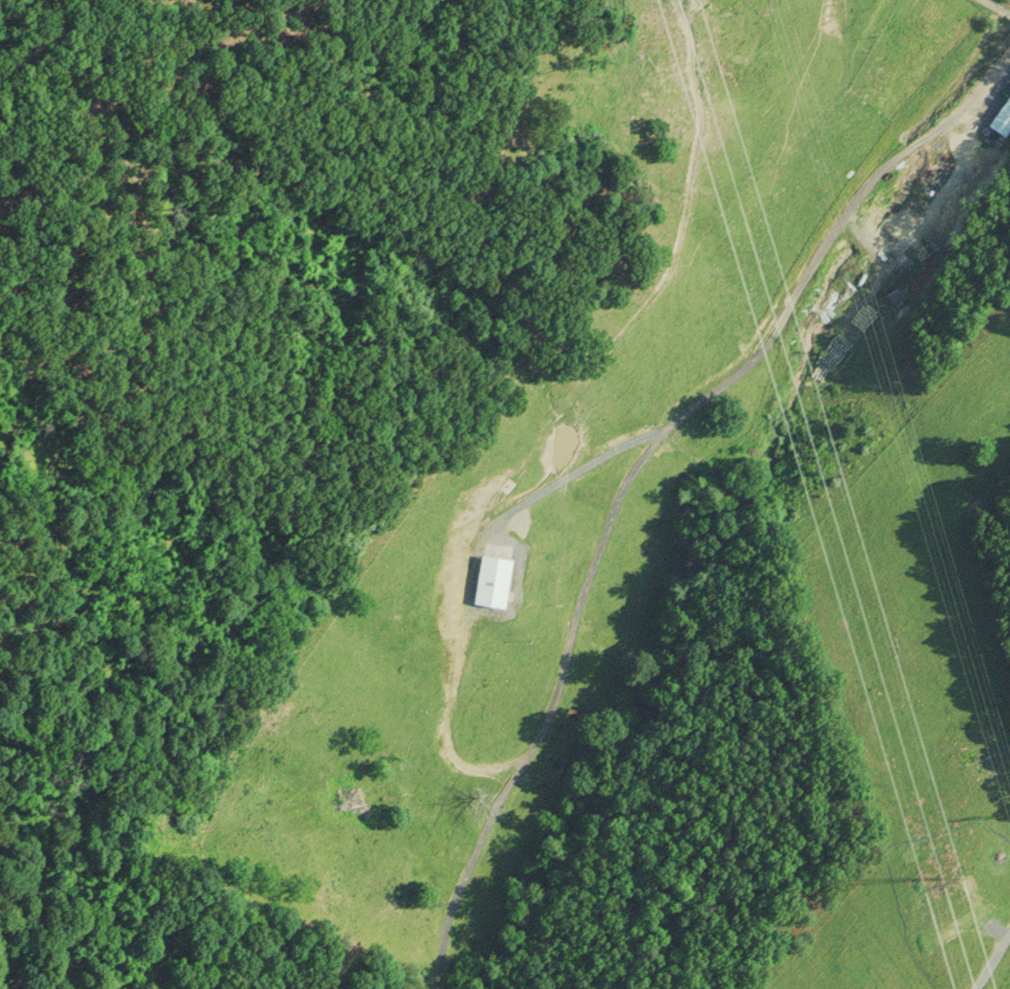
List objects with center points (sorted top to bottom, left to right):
road: (863, 188)
road: (563, 654)
power tower: (939, 881)
road: (1000, 976)

